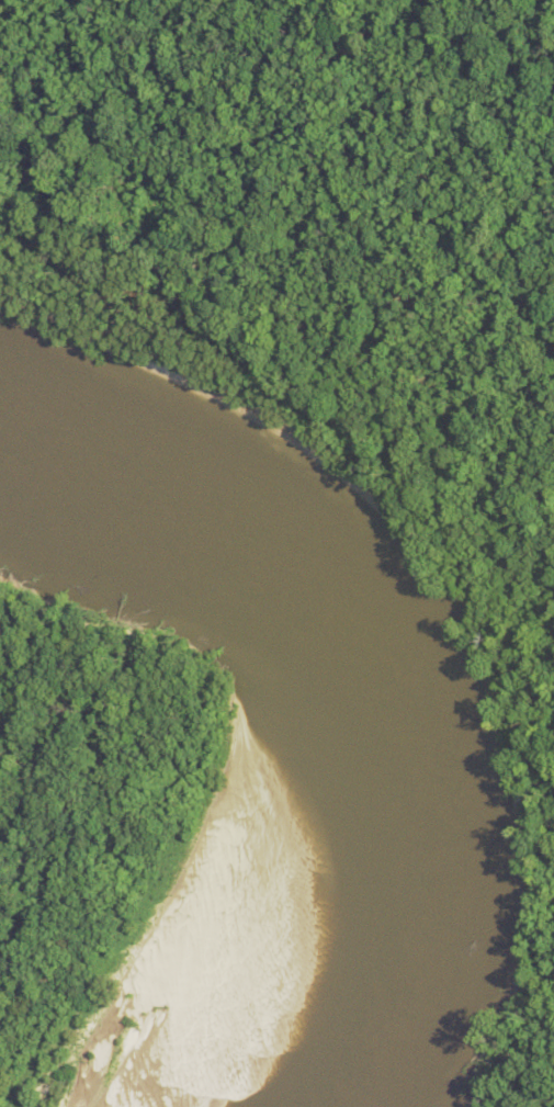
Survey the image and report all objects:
river: (313, 680)

